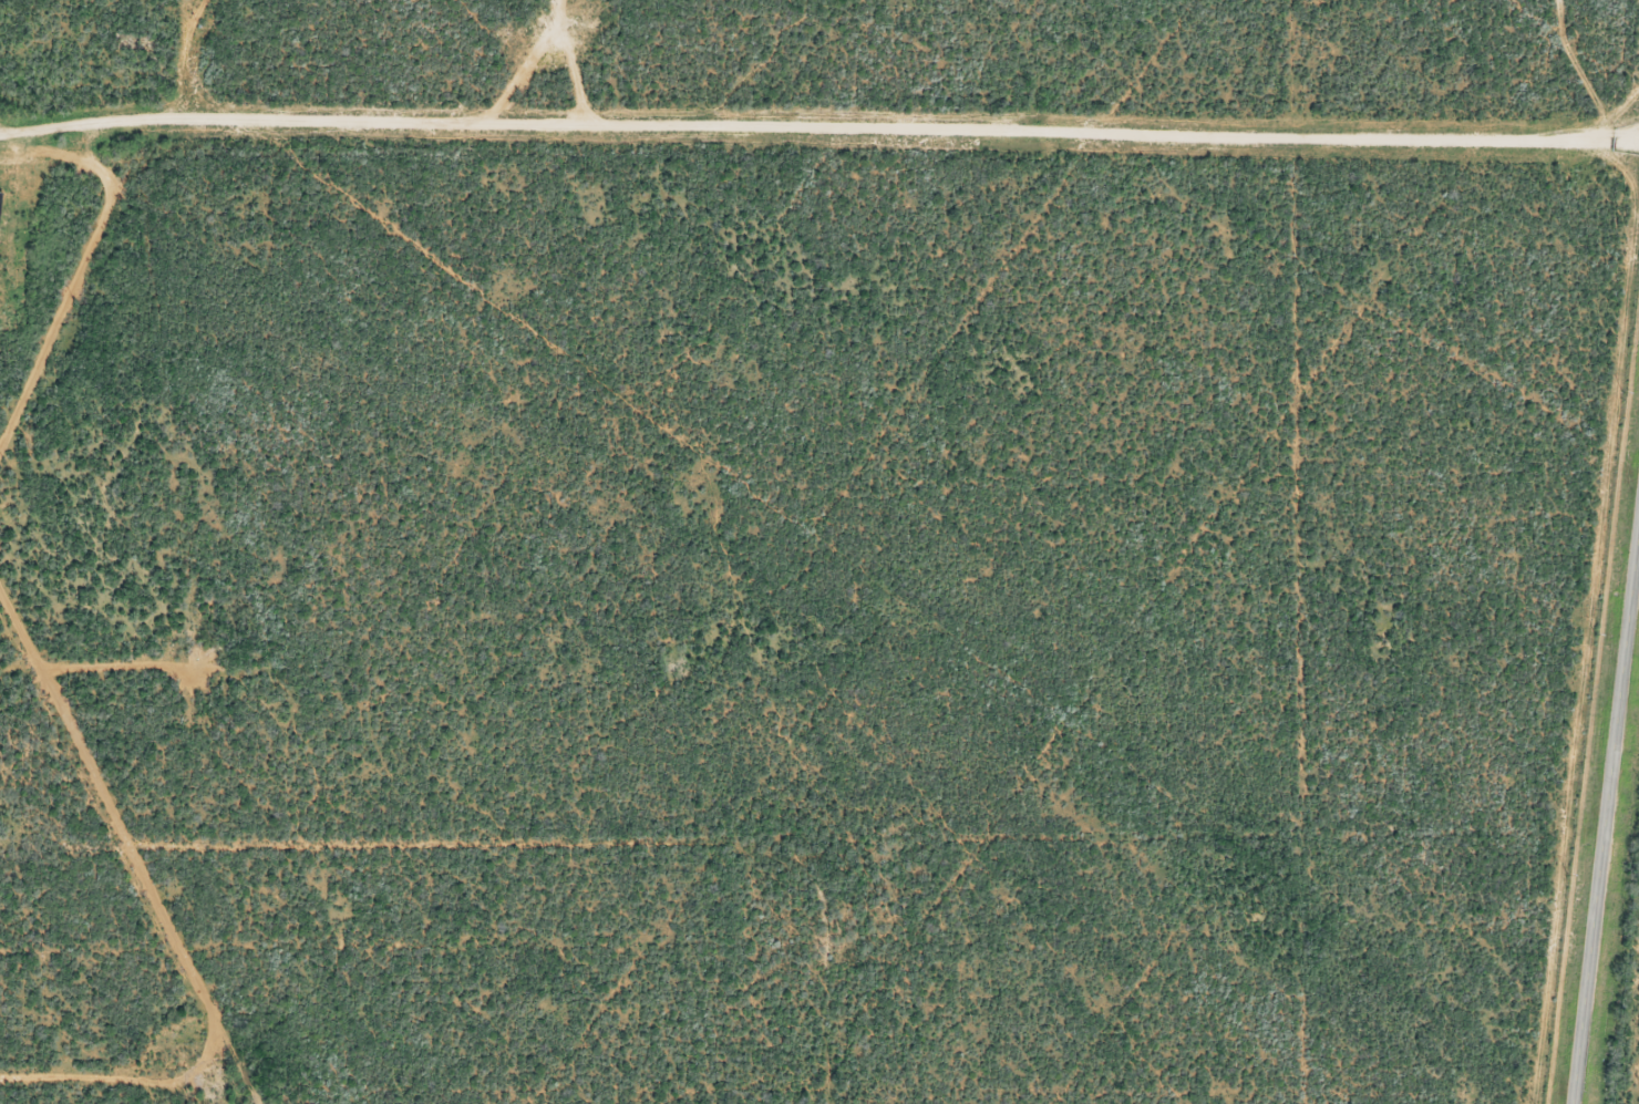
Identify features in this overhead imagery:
road: (818, 123)
road: (2, 167)
road: (1616, 906)

